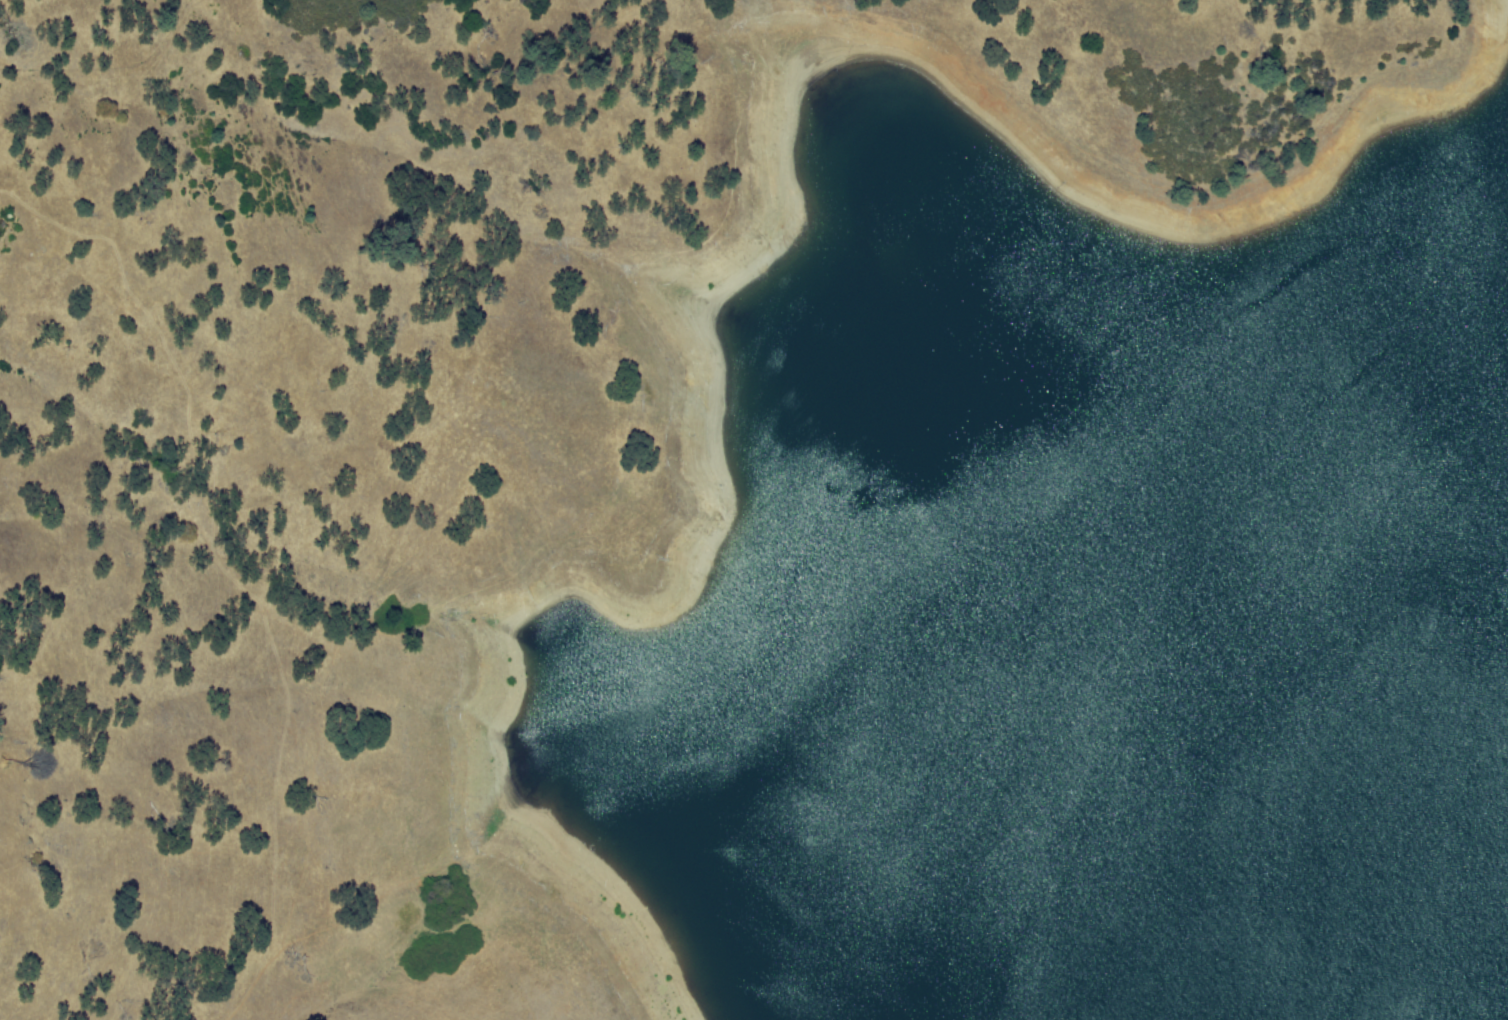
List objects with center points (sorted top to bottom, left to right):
river: (1379, 318)
river: (1089, 662)
river: (968, 980)

